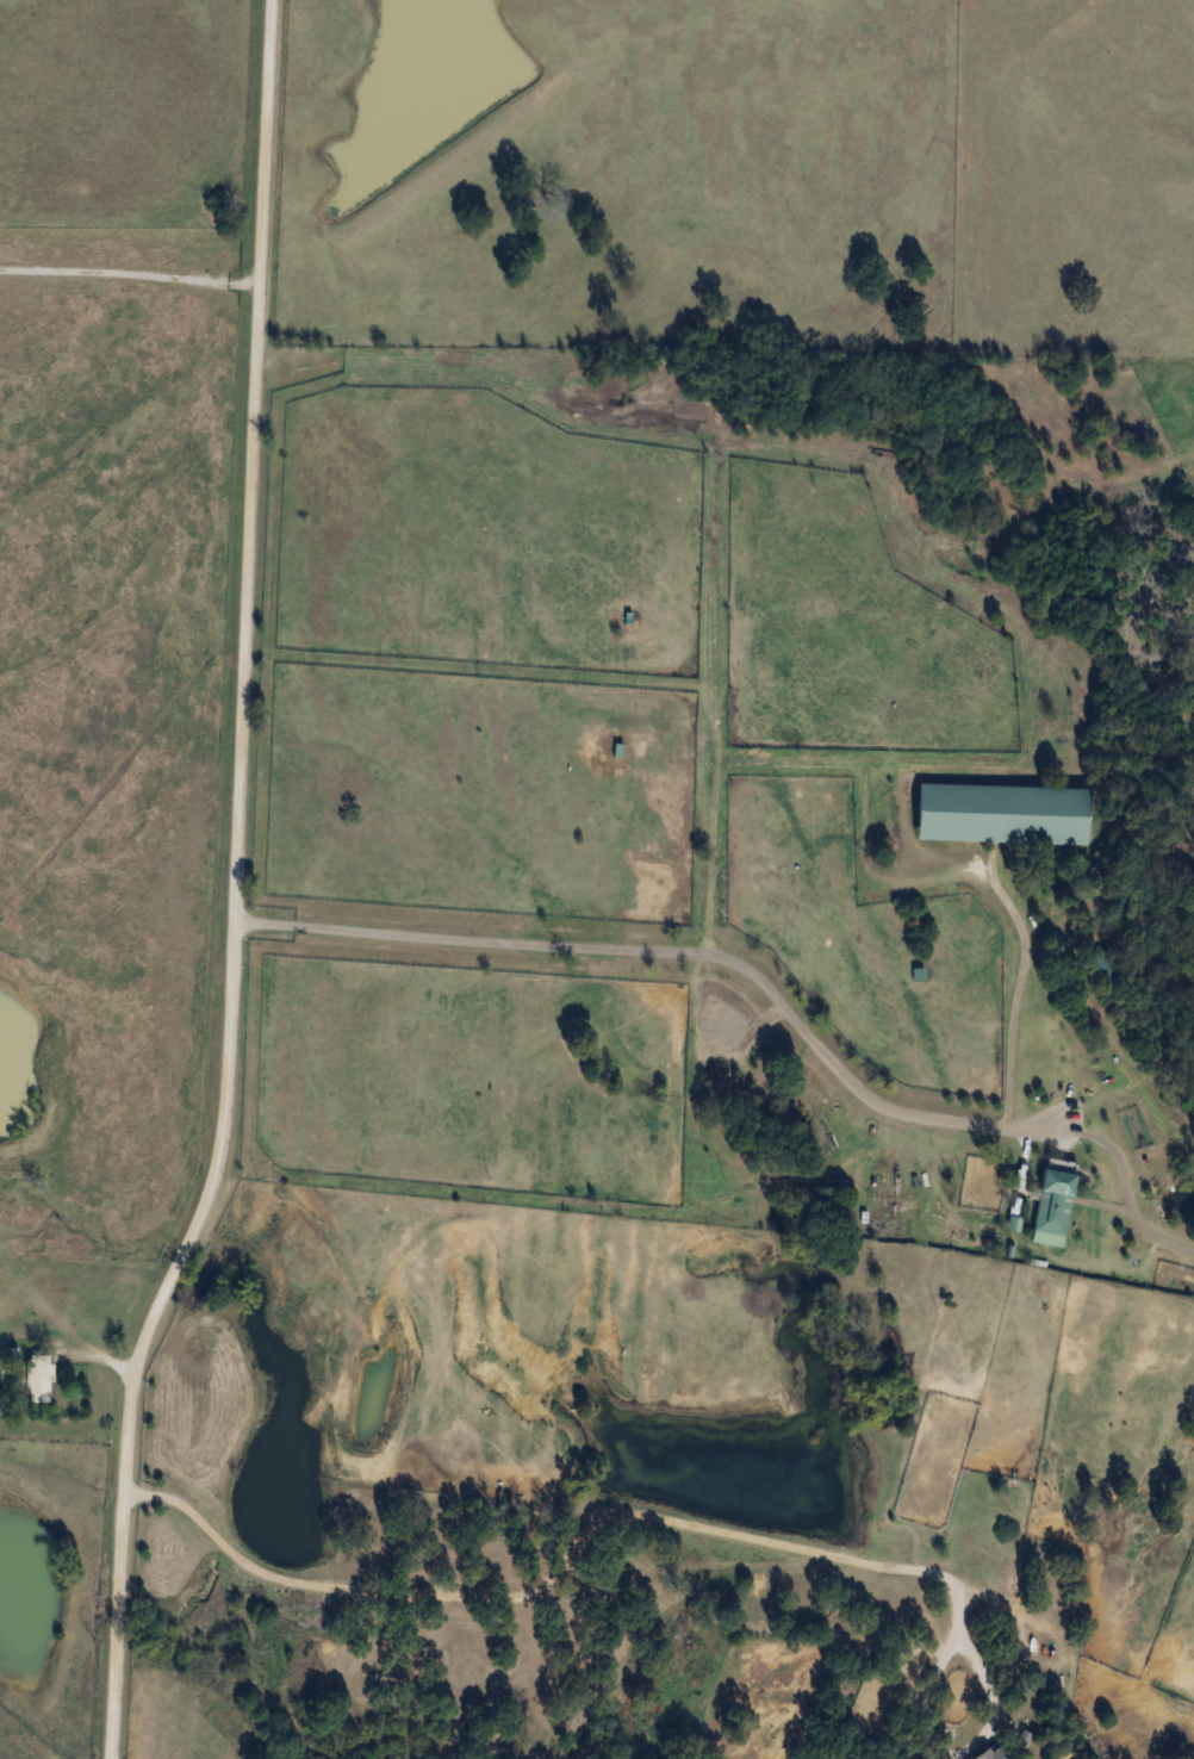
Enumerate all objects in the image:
road: (128, 266)
building: (1001, 814)
road: (234, 888)
road: (678, 951)
building: (1105, 968)
road: (1016, 987)
building: (1051, 1207)
building: (37, 1380)
road: (579, 1537)
building: (991, 1753)

